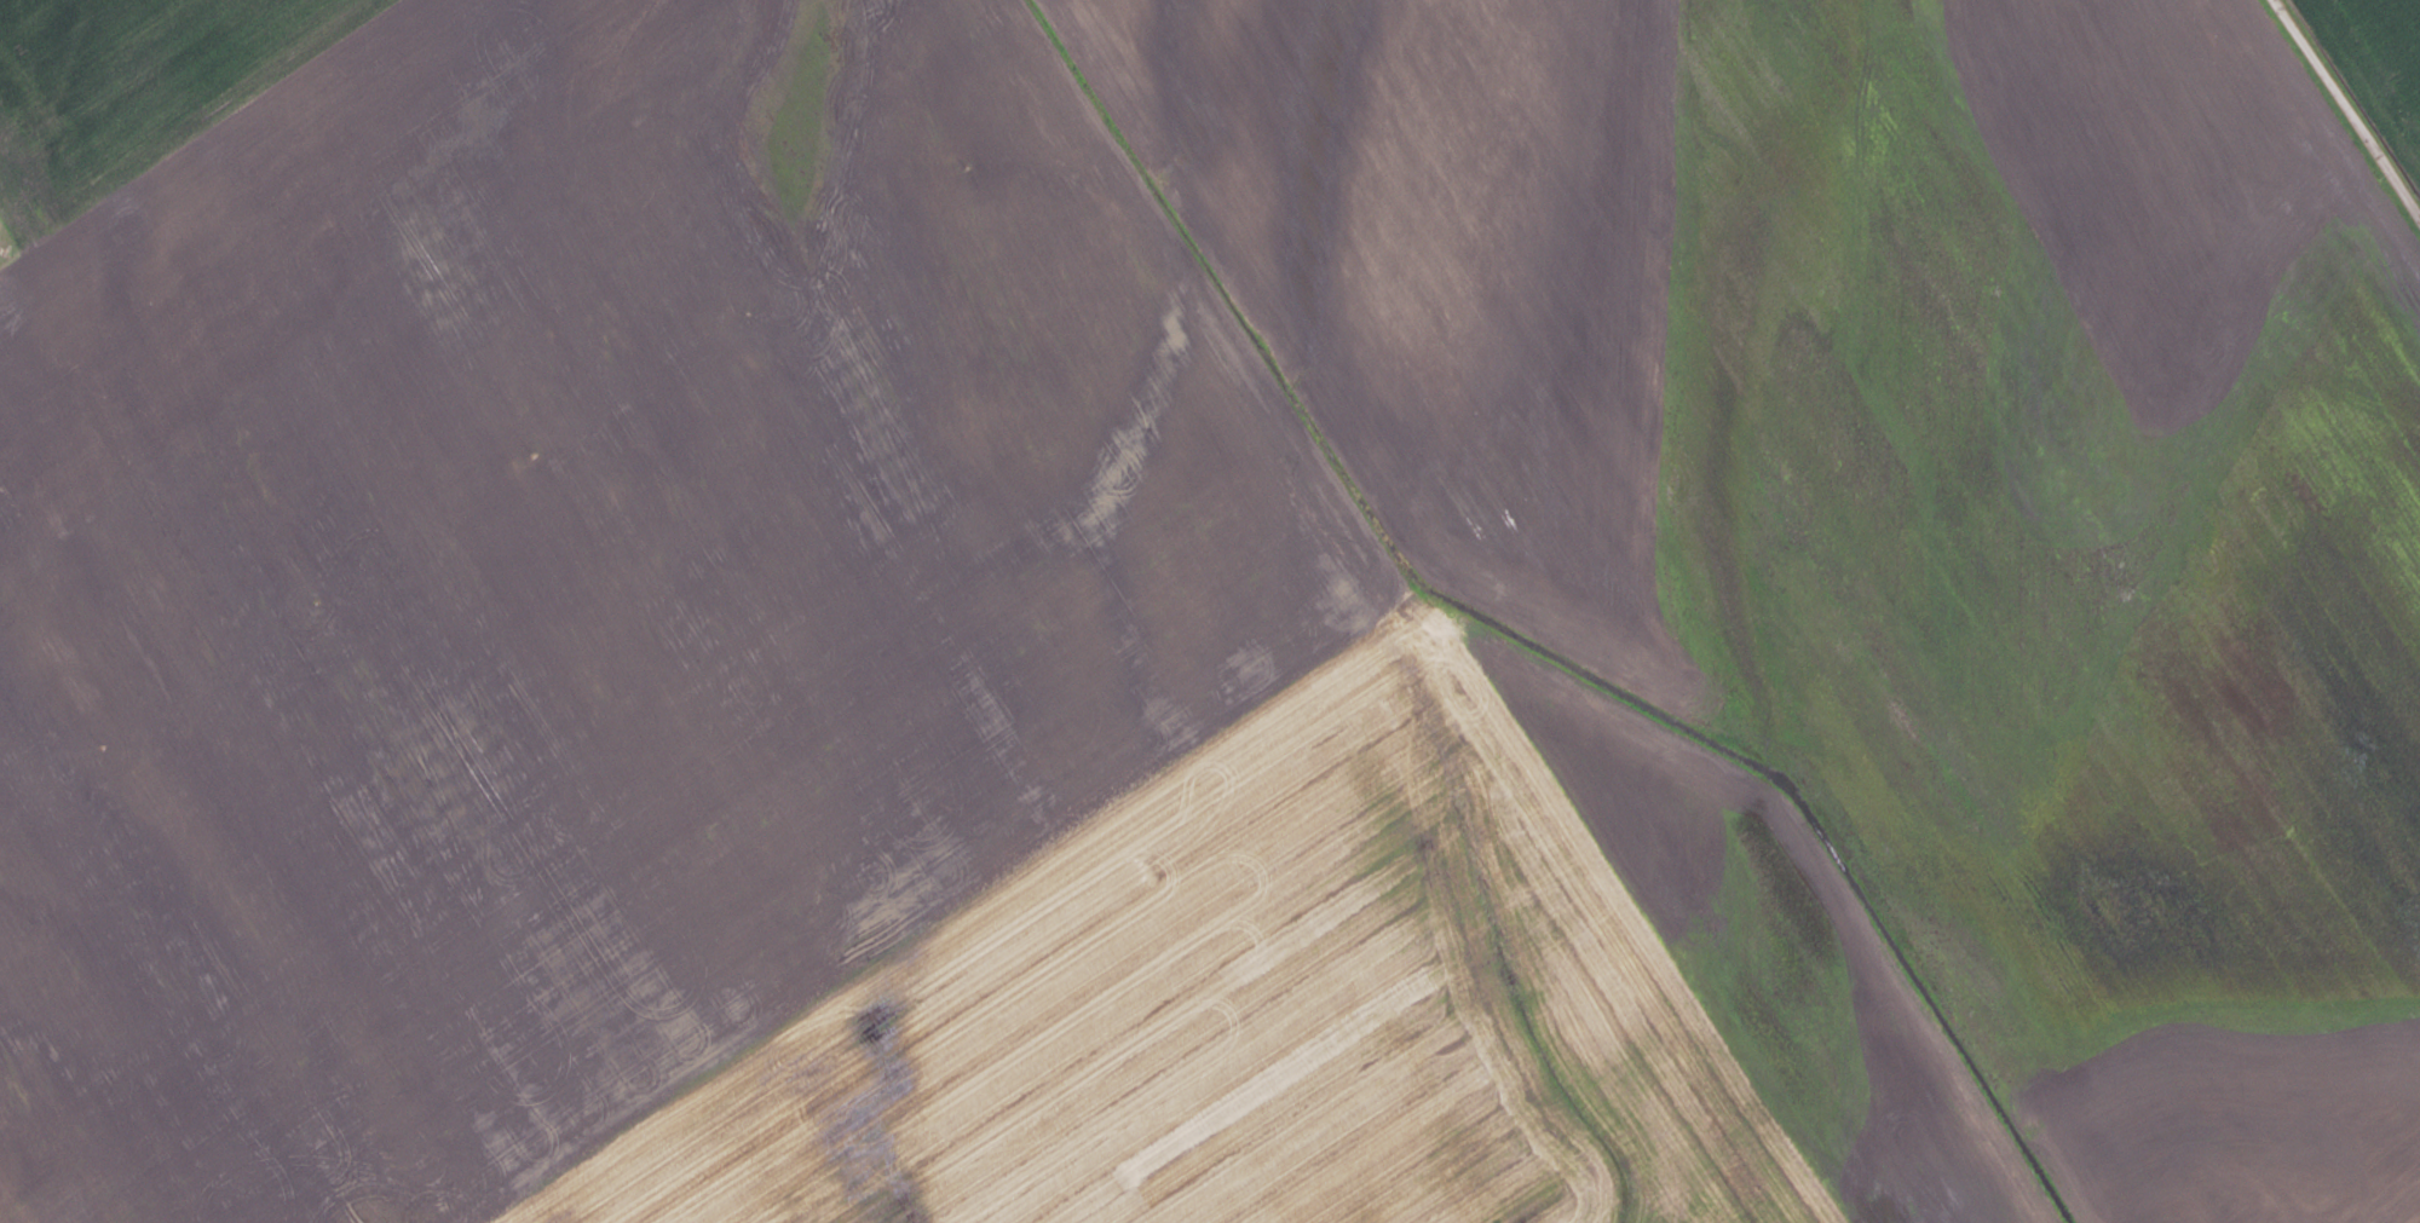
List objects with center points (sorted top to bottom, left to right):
crop: (2376, 64)
road: (2349, 105)
crop: (1202, 615)

